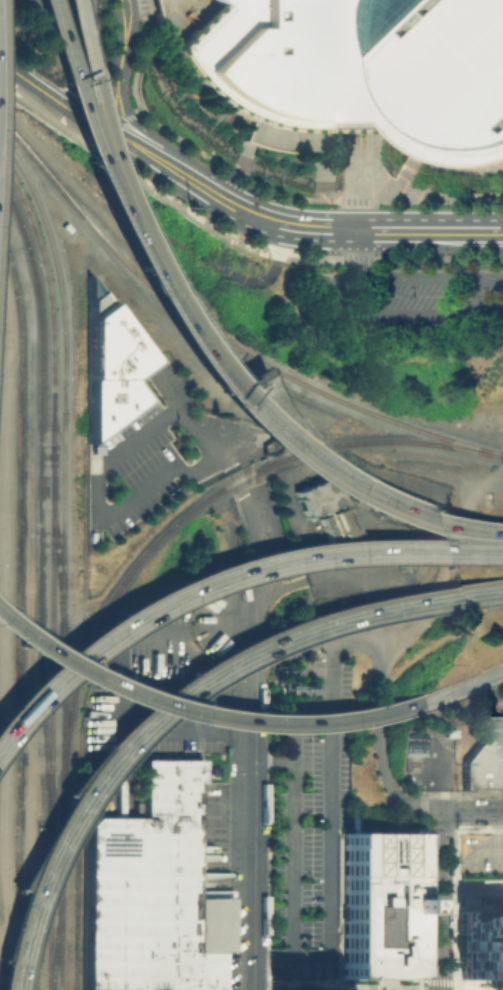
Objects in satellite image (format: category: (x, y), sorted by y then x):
road: (126, 29)
building: (361, 70)
road: (27, 84)
road: (83, 85)
road: (63, 86)
road: (107, 89)
road: (78, 110)
road: (36, 112)
road: (129, 118)
road: (102, 128)
road: (97, 139)
road: (137, 141)
road: (124, 144)
road: (208, 179)
road: (355, 181)
road: (112, 190)
road: (106, 191)
road: (190, 192)
road: (81, 193)
road: (135, 209)
road: (254, 215)
road: (315, 229)
road: (427, 230)
road: (501, 231)
road: (277, 242)
road: (355, 245)
road: (334, 288)
railway: (48, 297)
parking lot: (407, 298)
railway: (217, 336)
building: (106, 364)
railway: (63, 389)
road: (247, 410)
road: (280, 425)
road: (95, 476)
road: (500, 478)
building: (315, 496)
railway: (40, 502)
railway: (187, 509)
building: (335, 524)
road: (478, 529)
road: (257, 533)
railway: (57, 550)
road: (428, 550)
road: (451, 566)
road: (157, 603)
railway: (50, 637)
road: (255, 641)
road: (291, 653)
road: (462, 686)
road: (177, 697)
road: (202, 714)
road: (291, 714)
road: (379, 724)
railway: (61, 753)
building: (485, 760)
parking lot: (122, 786)
road: (471, 812)
road: (253, 836)
road: (329, 837)
road: (290, 839)
parking lot: (304, 857)
building: (149, 893)
building: (380, 900)
road: (439, 901)
railway: (49, 909)
railway: (76, 913)
railway: (57, 921)
railway: (60, 921)
street lamp: (306, 945)
building: (479, 947)
road: (296, 985)
road: (470, 985)
road: (358, 986)
road: (427, 986)
road: (386, 987)
road: (472, 987)
road: (338, 988)
road: (355, 988)
road: (362, 988)
road: (386, 988)
road: (395, 988)
road: (443, 988)

